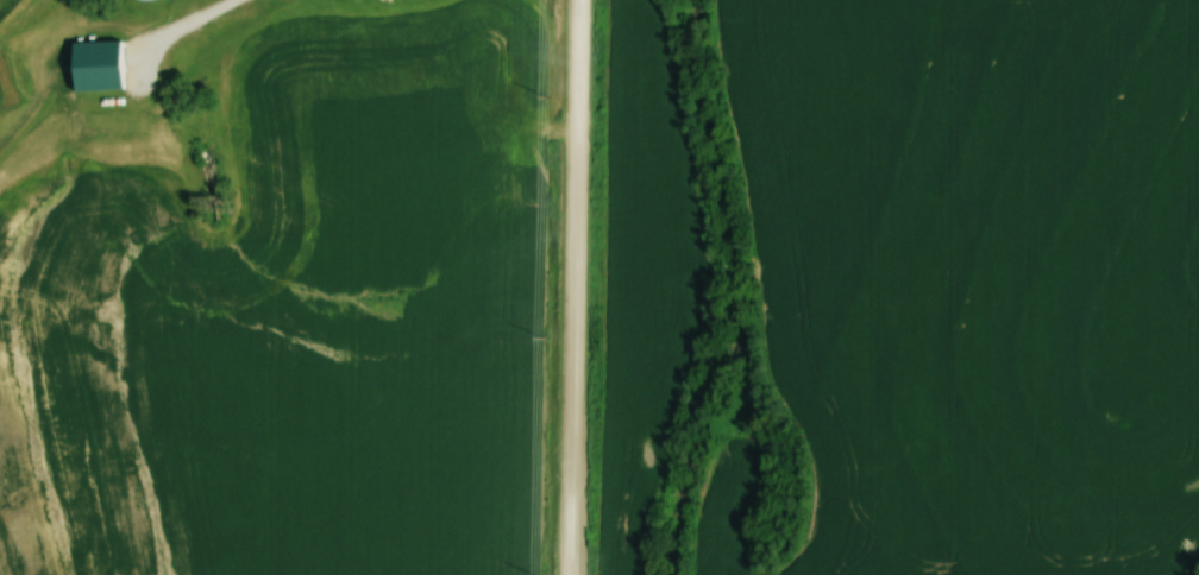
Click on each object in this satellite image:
airport taxiway: (63, 53)
road: (575, 287)

